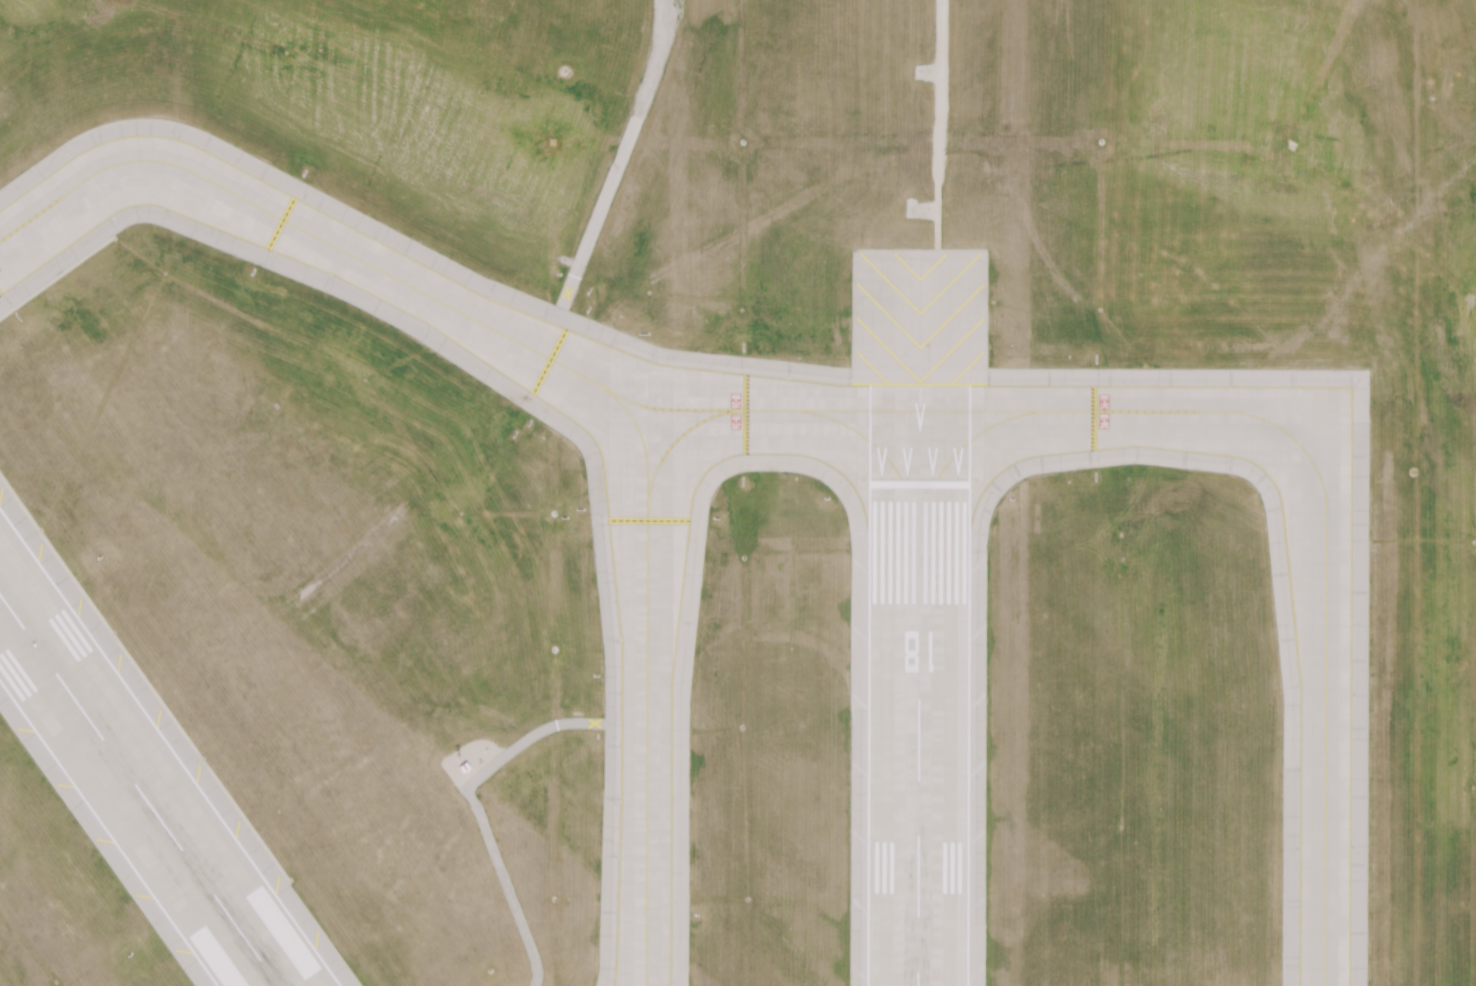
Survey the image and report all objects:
road: (938, 124)
road: (609, 178)
airport taxiway: (444, 303)
airport runway: (922, 434)
airport taxiway: (677, 439)
airport taxiway: (880, 453)
airport taxiway: (955, 453)
airport: (738, 493)
airport taxiway: (1325, 518)
airport taxiway: (648, 675)
airport runway: (921, 733)
airport runway: (139, 790)
road: (470, 791)

